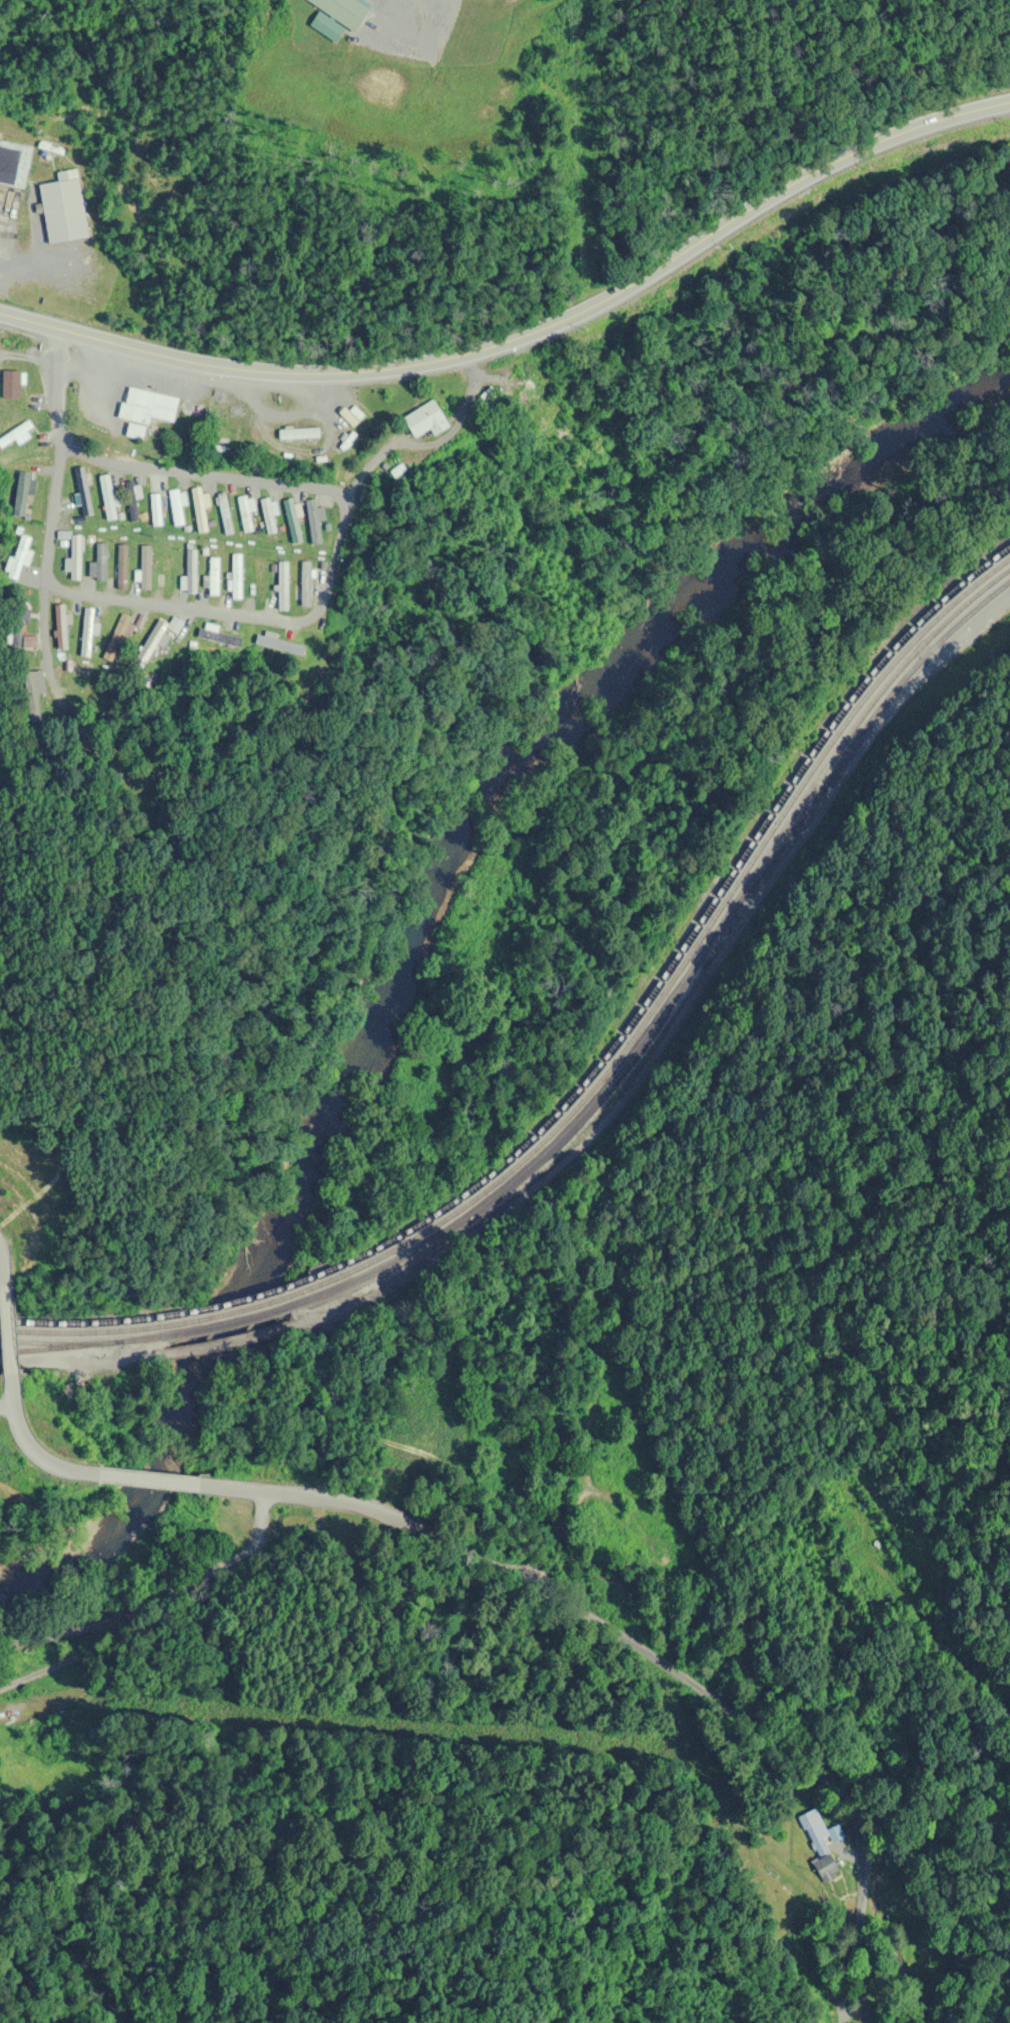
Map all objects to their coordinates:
building: (342, 10)
building: (13, 163)
building: (63, 208)
road: (528, 338)
building: (11, 384)
building: (146, 410)
building: (425, 420)
building: (298, 433)
building: (17, 434)
building: (82, 492)
building: (23, 494)
building: (131, 501)
building: (177, 506)
building: (199, 506)
building: (155, 510)
building: (246, 512)
building: (224, 513)
building: (269, 515)
building: (291, 520)
building: (312, 521)
building: (19, 557)
building: (75, 557)
building: (99, 561)
building: (121, 567)
building: (144, 570)
building: (189, 570)
building: (167, 573)
building: (236, 576)
building: (212, 577)
building: (259, 580)
building: (305, 584)
building: (282, 586)
road: (253, 617)
building: (16, 626)
building: (86, 631)
building: (119, 634)
building: (157, 638)
building: (29, 643)
building: (222, 645)
building: (280, 645)
road: (49, 656)
building: (30, 692)
railway: (685, 943)
river: (430, 944)
railway: (685, 957)
railway: (687, 972)
road: (1, 1272)
railway: (246, 1297)
railway: (240, 1308)
railway: (234, 1318)
railway: (93, 1322)
road: (6, 1325)
railway: (89, 1330)
railway: (87, 1342)
railway: (46, 1350)
road: (26, 1442)
road: (148, 1477)
road: (636, 1652)
building: (818, 1844)

